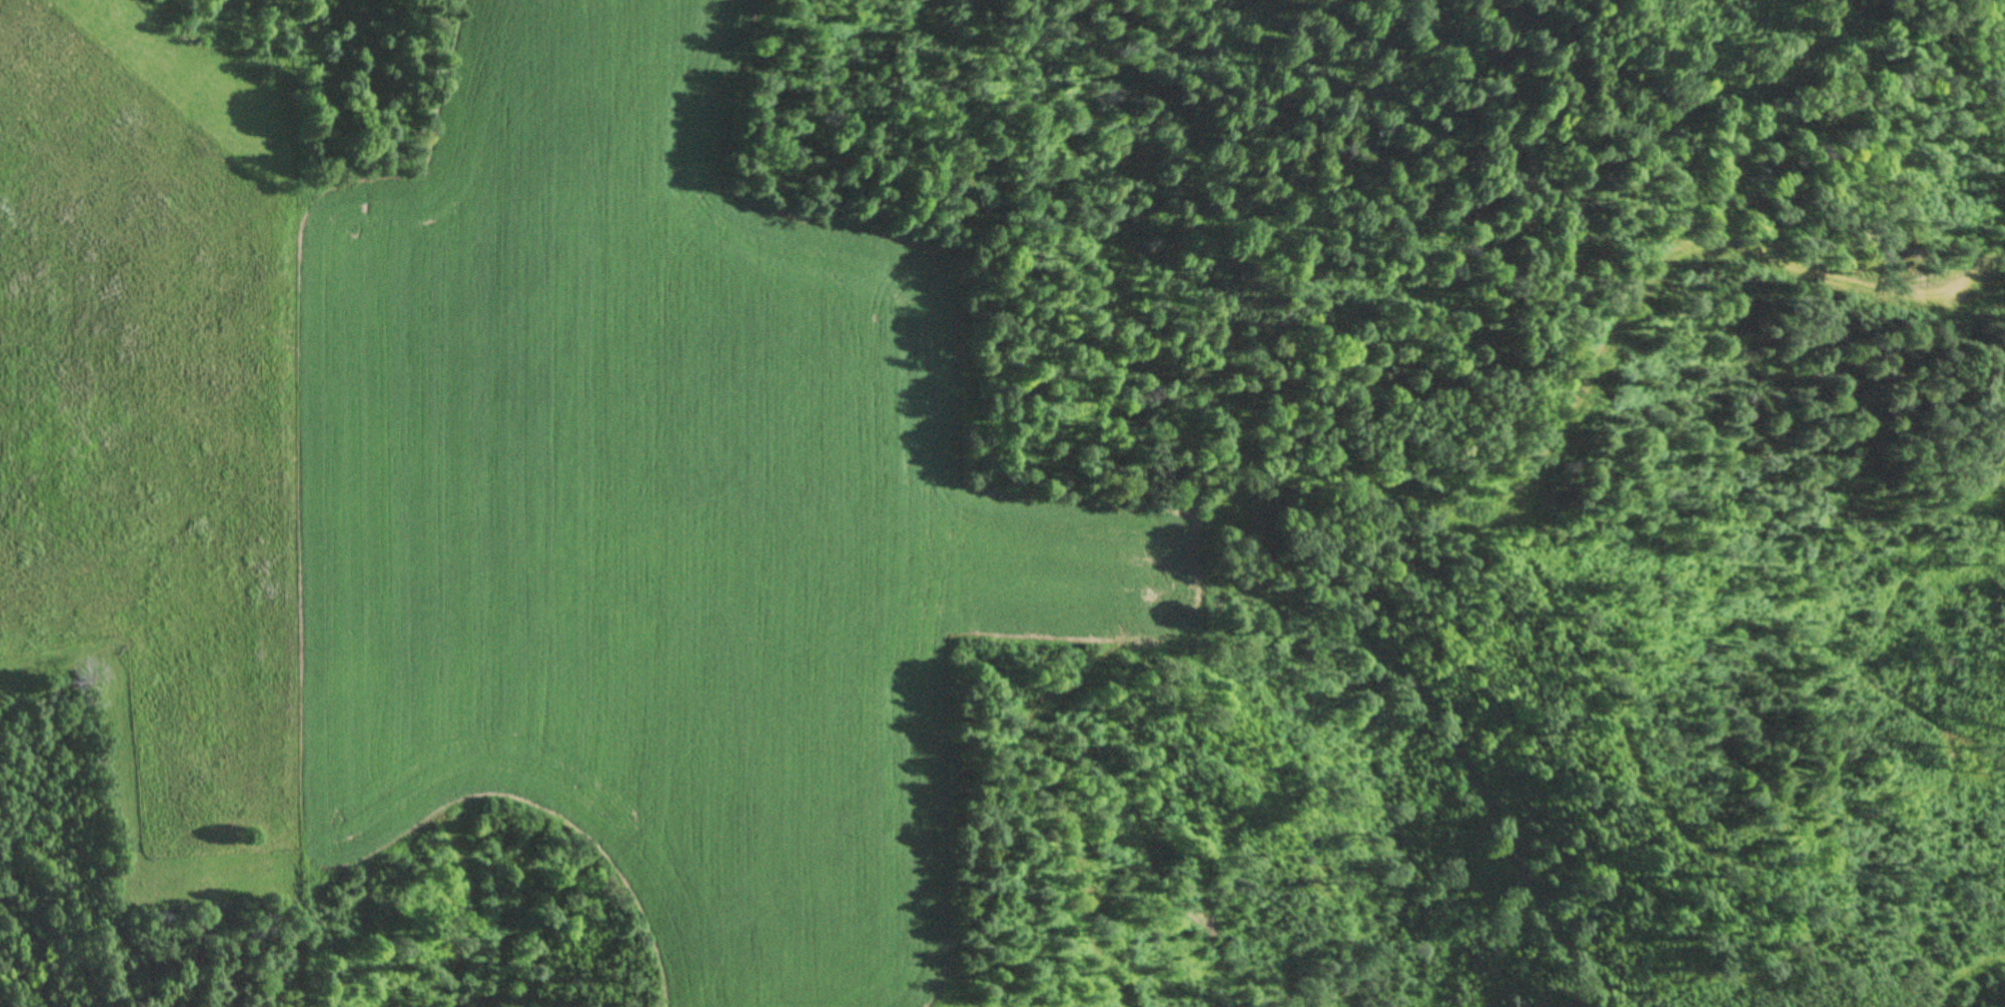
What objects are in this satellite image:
crop: (662, 515)

